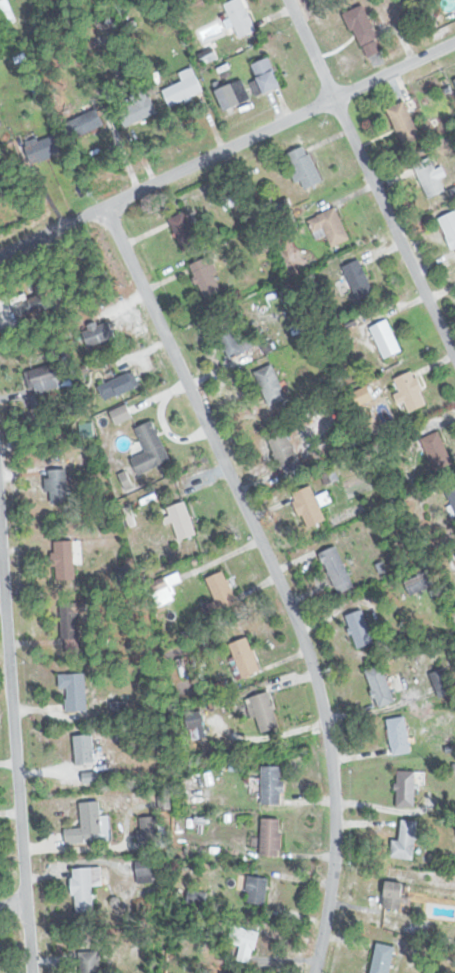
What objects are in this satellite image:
building: (5, 12)
building: (240, 17)
building: (360, 26)
building: (266, 74)
building: (183, 88)
building: (234, 94)
building: (138, 108)
building: (85, 123)
building: (404, 123)
building: (45, 147)
road: (227, 148)
building: (305, 167)
building: (429, 177)
road: (371, 181)
building: (329, 226)
building: (449, 227)
building: (186, 232)
building: (206, 277)
building: (358, 279)
building: (35, 301)
building: (99, 333)
building: (386, 338)
building: (231, 339)
building: (43, 378)
building: (271, 384)
building: (120, 386)
building: (409, 392)
building: (122, 414)
building: (151, 448)
building: (437, 450)
building: (285, 452)
building: (58, 485)
building: (452, 496)
building: (309, 506)
building: (182, 521)
building: (65, 562)
building: (337, 570)
road: (275, 576)
building: (417, 583)
building: (166, 586)
building: (220, 594)
building: (71, 626)
building: (360, 629)
building: (244, 658)
building: (441, 682)
building: (380, 686)
building: (75, 690)
building: (120, 709)
building: (263, 712)
building: (399, 735)
building: (85, 748)
road: (14, 763)
building: (272, 784)
building: (406, 789)
building: (86, 823)
building: (149, 832)
building: (270, 837)
building: (406, 841)
road: (74, 848)
building: (145, 871)
building: (85, 887)
building: (256, 890)
building: (394, 895)
building: (197, 897)
road: (12, 905)
building: (244, 942)
building: (382, 958)
building: (90, 962)

